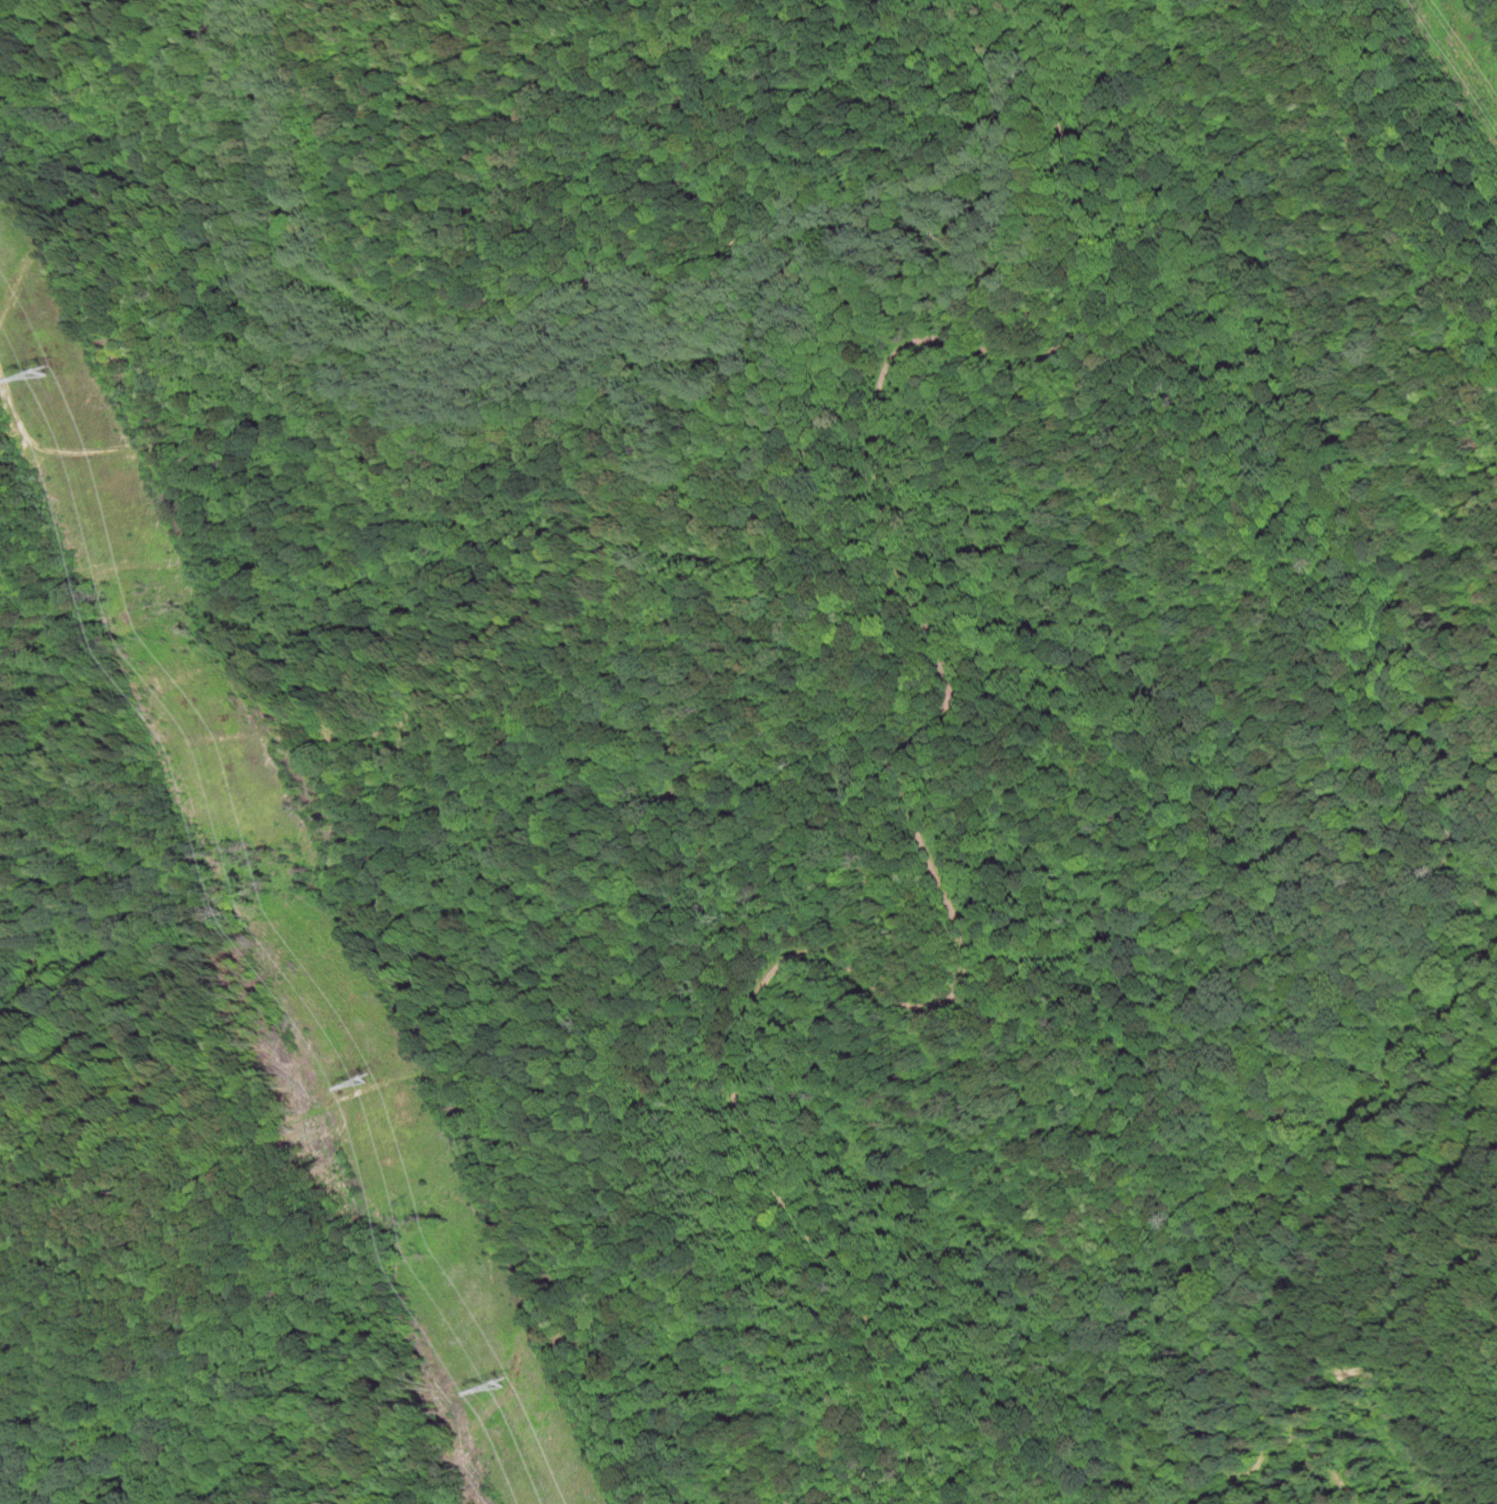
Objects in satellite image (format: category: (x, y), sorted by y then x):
power tower: (52, 380)
power tower: (374, 1085)
power tower: (499, 1388)

